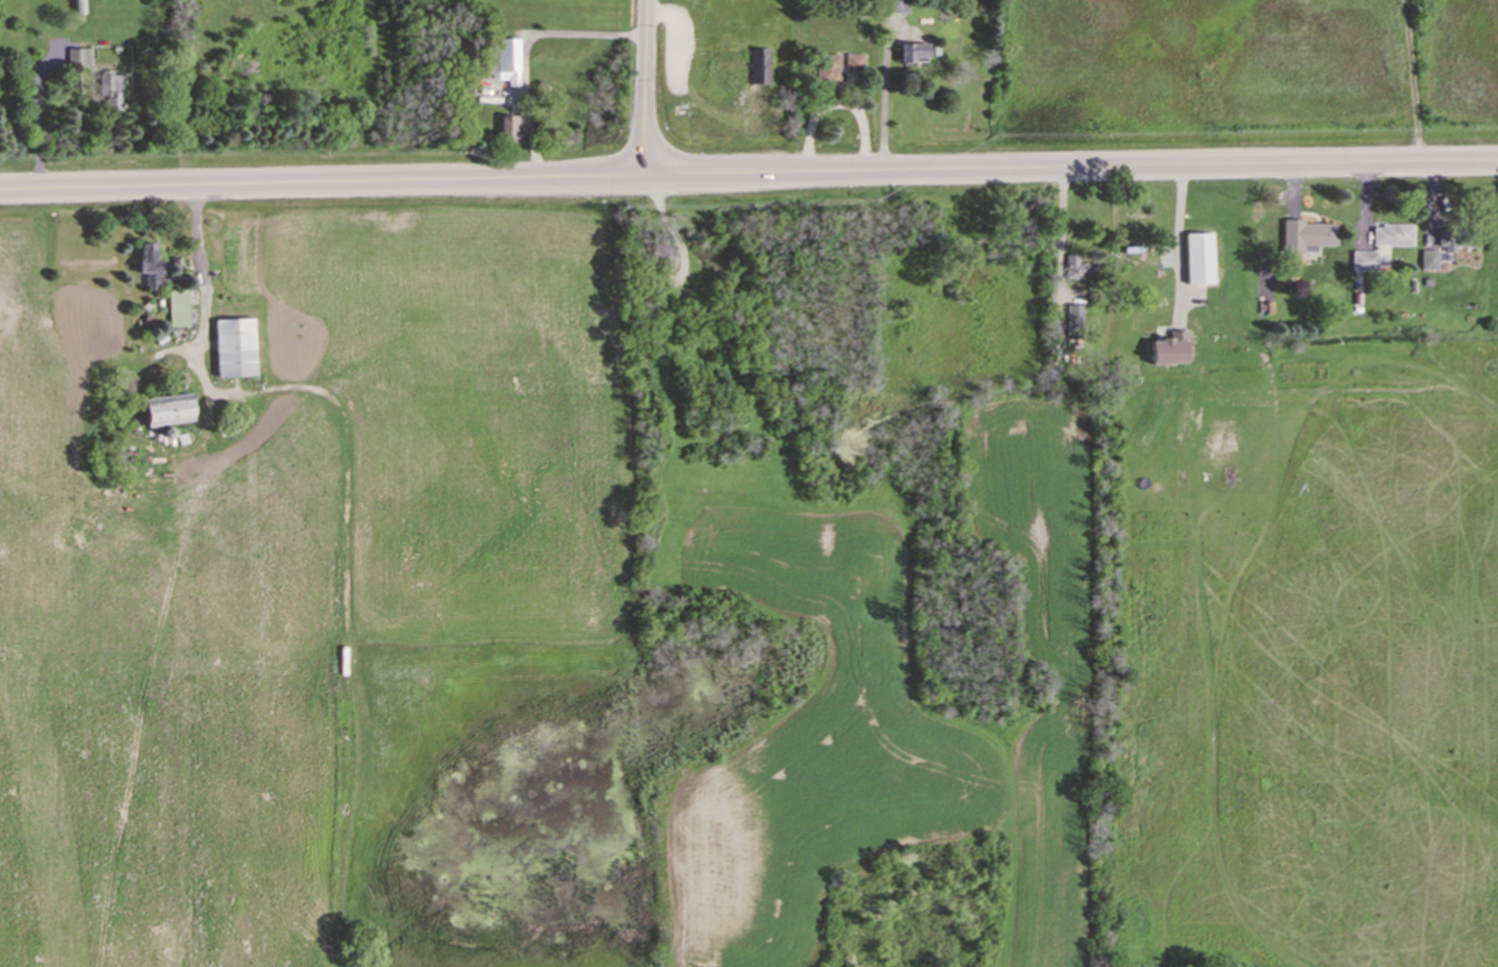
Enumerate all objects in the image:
building: (78, 6)
building: (895, 6)
road: (524, 46)
building: (913, 52)
building: (78, 56)
building: (506, 59)
building: (853, 61)
building: (489, 63)
building: (758, 65)
building: (827, 68)
crop: (1247, 74)
road: (643, 86)
building: (110, 89)
building: (507, 128)
road: (1068, 165)
road: (319, 180)
building: (1392, 234)
road: (1060, 235)
building: (1306, 235)
road: (1178, 239)
building: (1447, 240)
building: (661, 255)
building: (1198, 257)
building: (1428, 259)
building: (1363, 260)
building: (149, 265)
road: (199, 265)
building: (1076, 267)
building: (177, 307)
building: (1073, 318)
building: (234, 346)
building: (1168, 348)
building: (166, 409)
crop: (284, 568)
crop: (908, 704)

